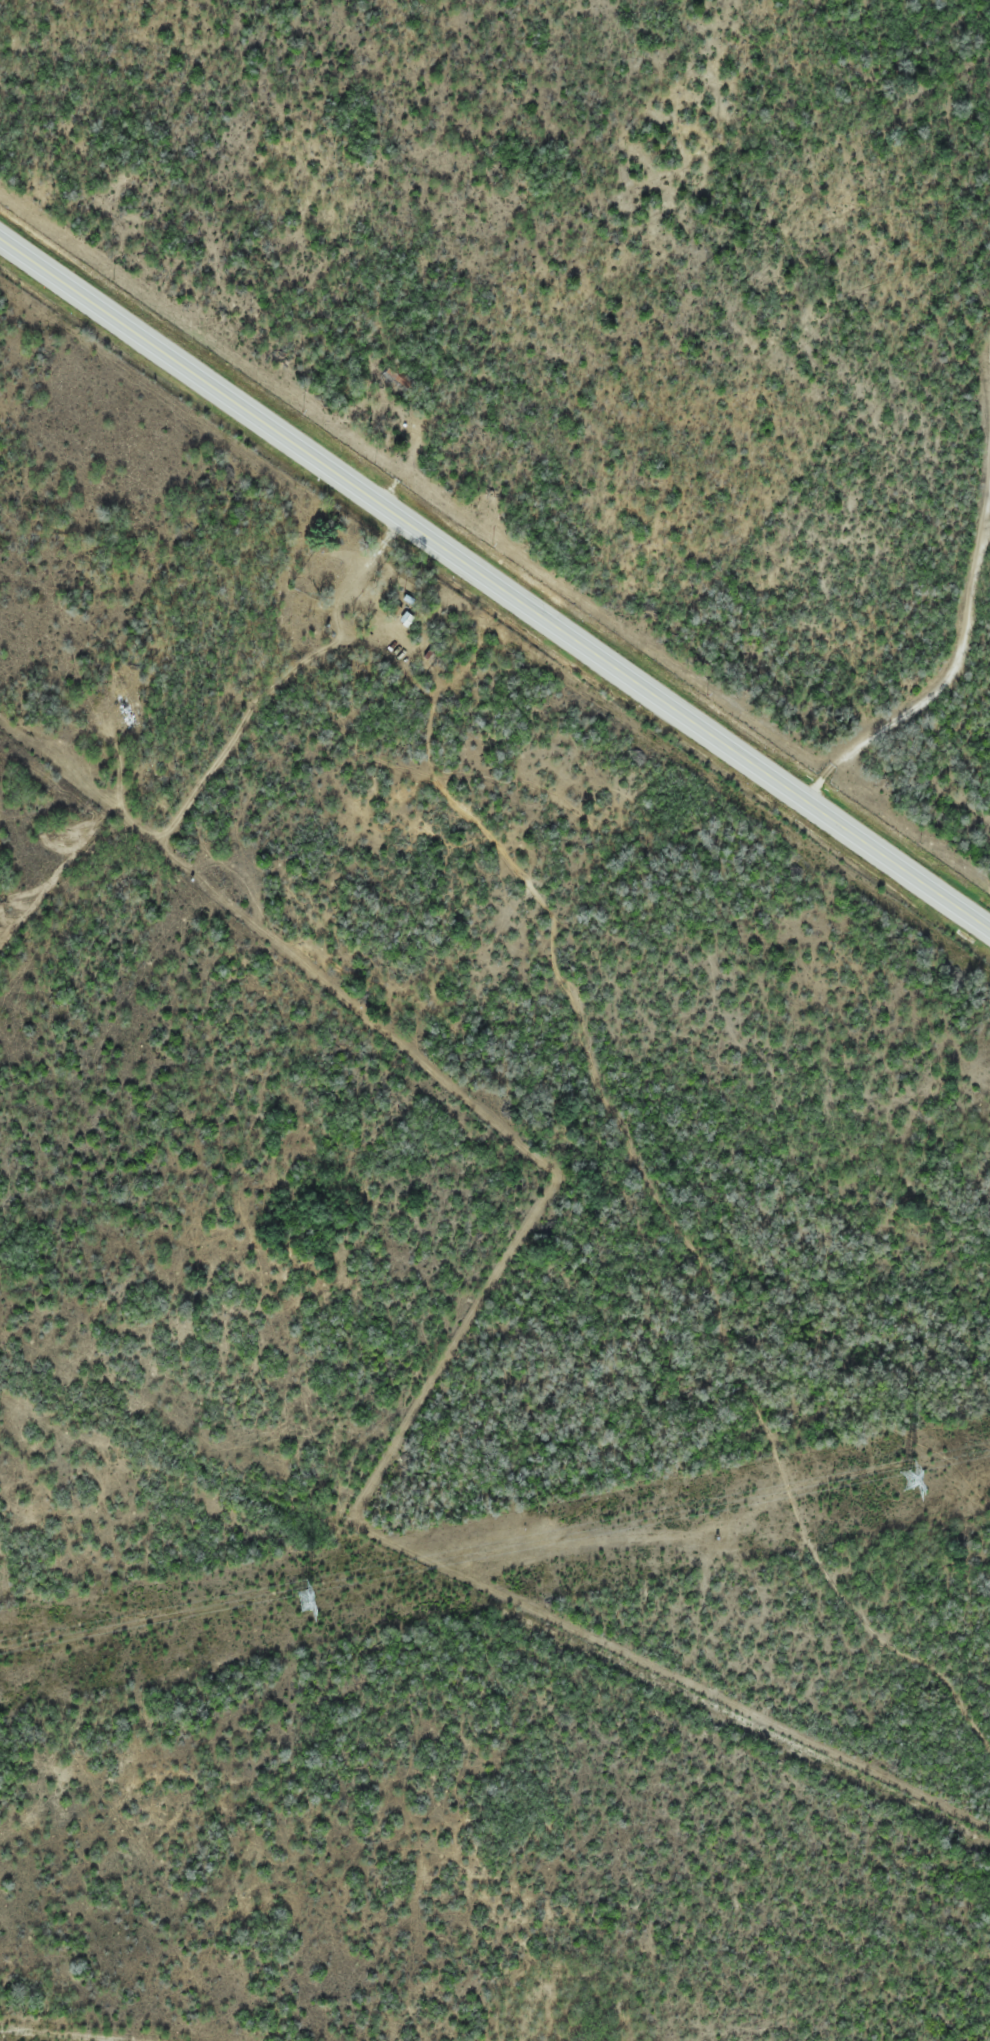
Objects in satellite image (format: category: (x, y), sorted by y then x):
road: (200, 152)
building: (339, 563)
road: (494, 578)
building: (406, 620)
power tower: (906, 1481)
power tower: (303, 1602)

